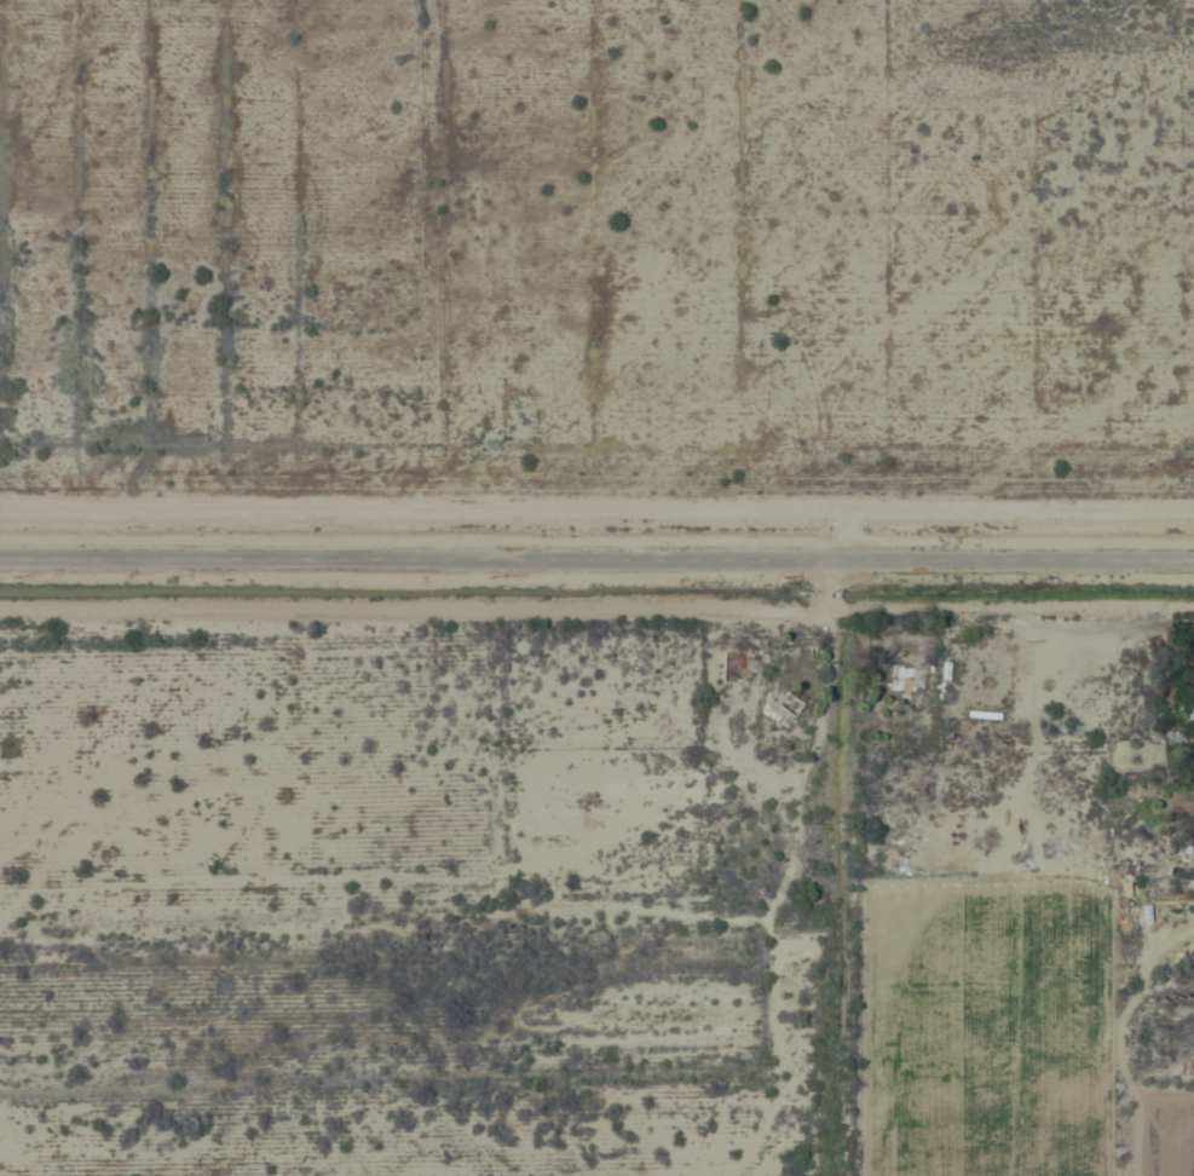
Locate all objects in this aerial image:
road: (596, 550)
building: (902, 679)
building: (781, 703)

